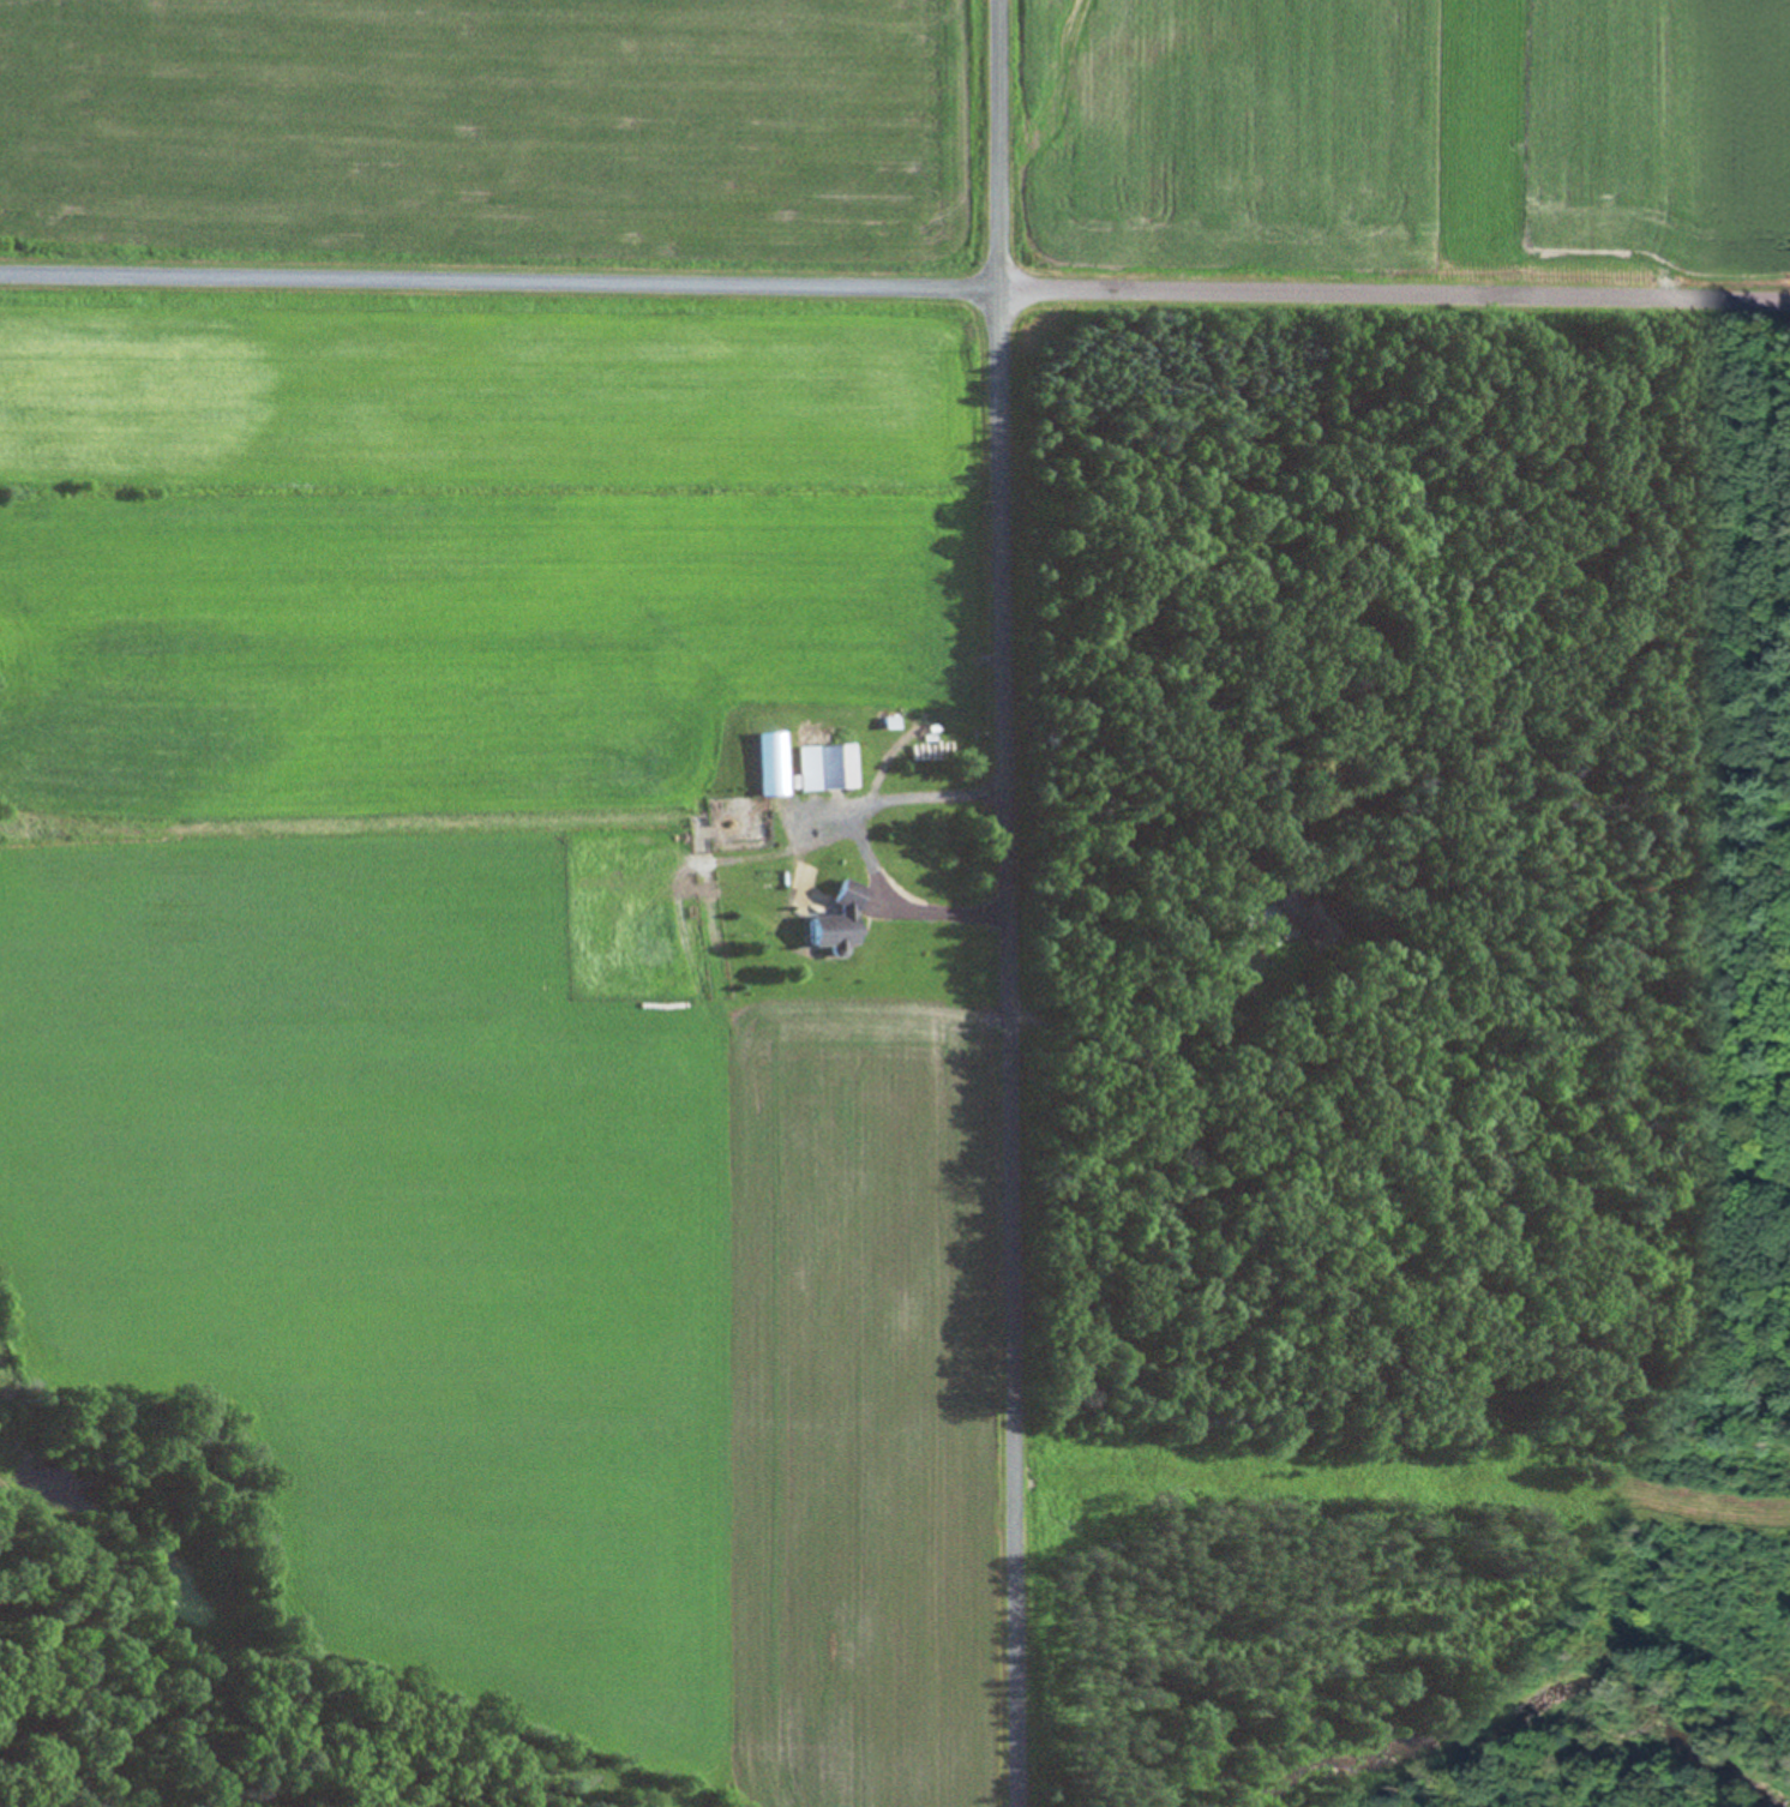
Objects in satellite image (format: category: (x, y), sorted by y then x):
road: (894, 292)
building: (773, 763)
building: (824, 768)
road: (854, 839)
road: (999, 903)
building: (1304, 913)
building: (837, 923)

